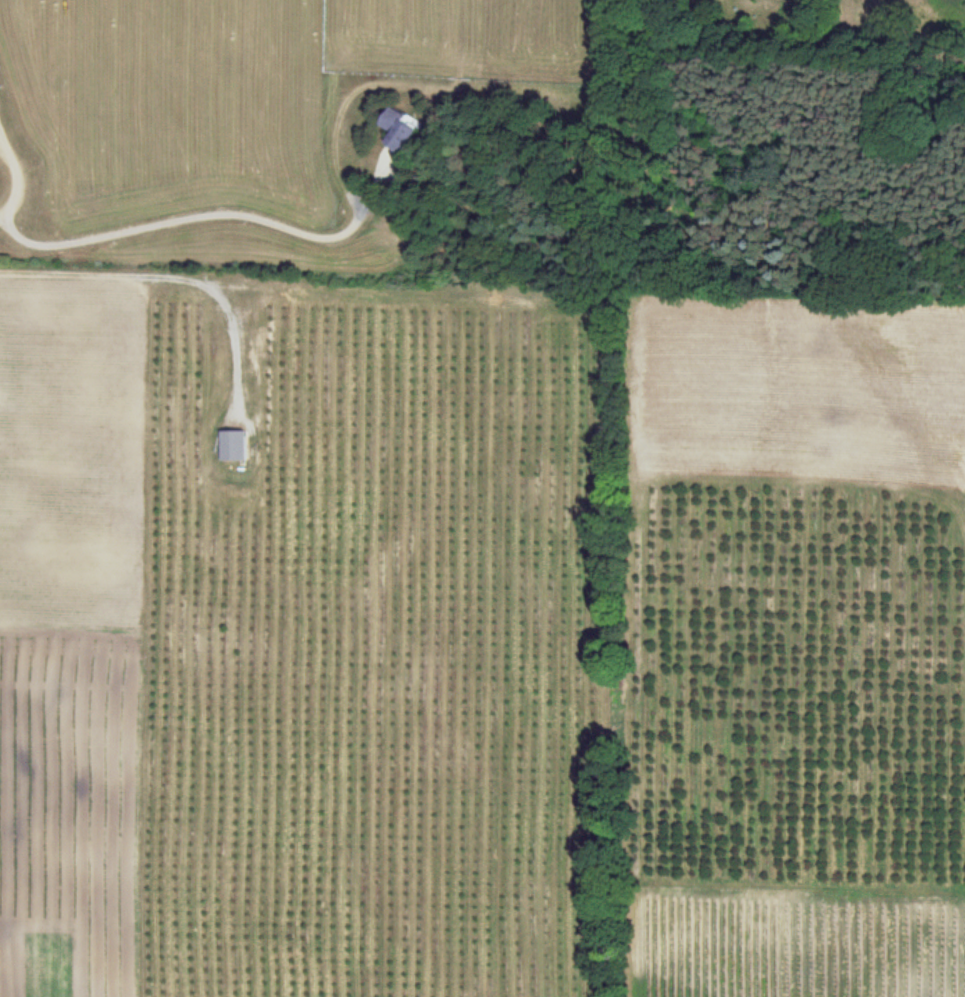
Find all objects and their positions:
building: (400, 130)
road: (144, 225)
building: (235, 447)

